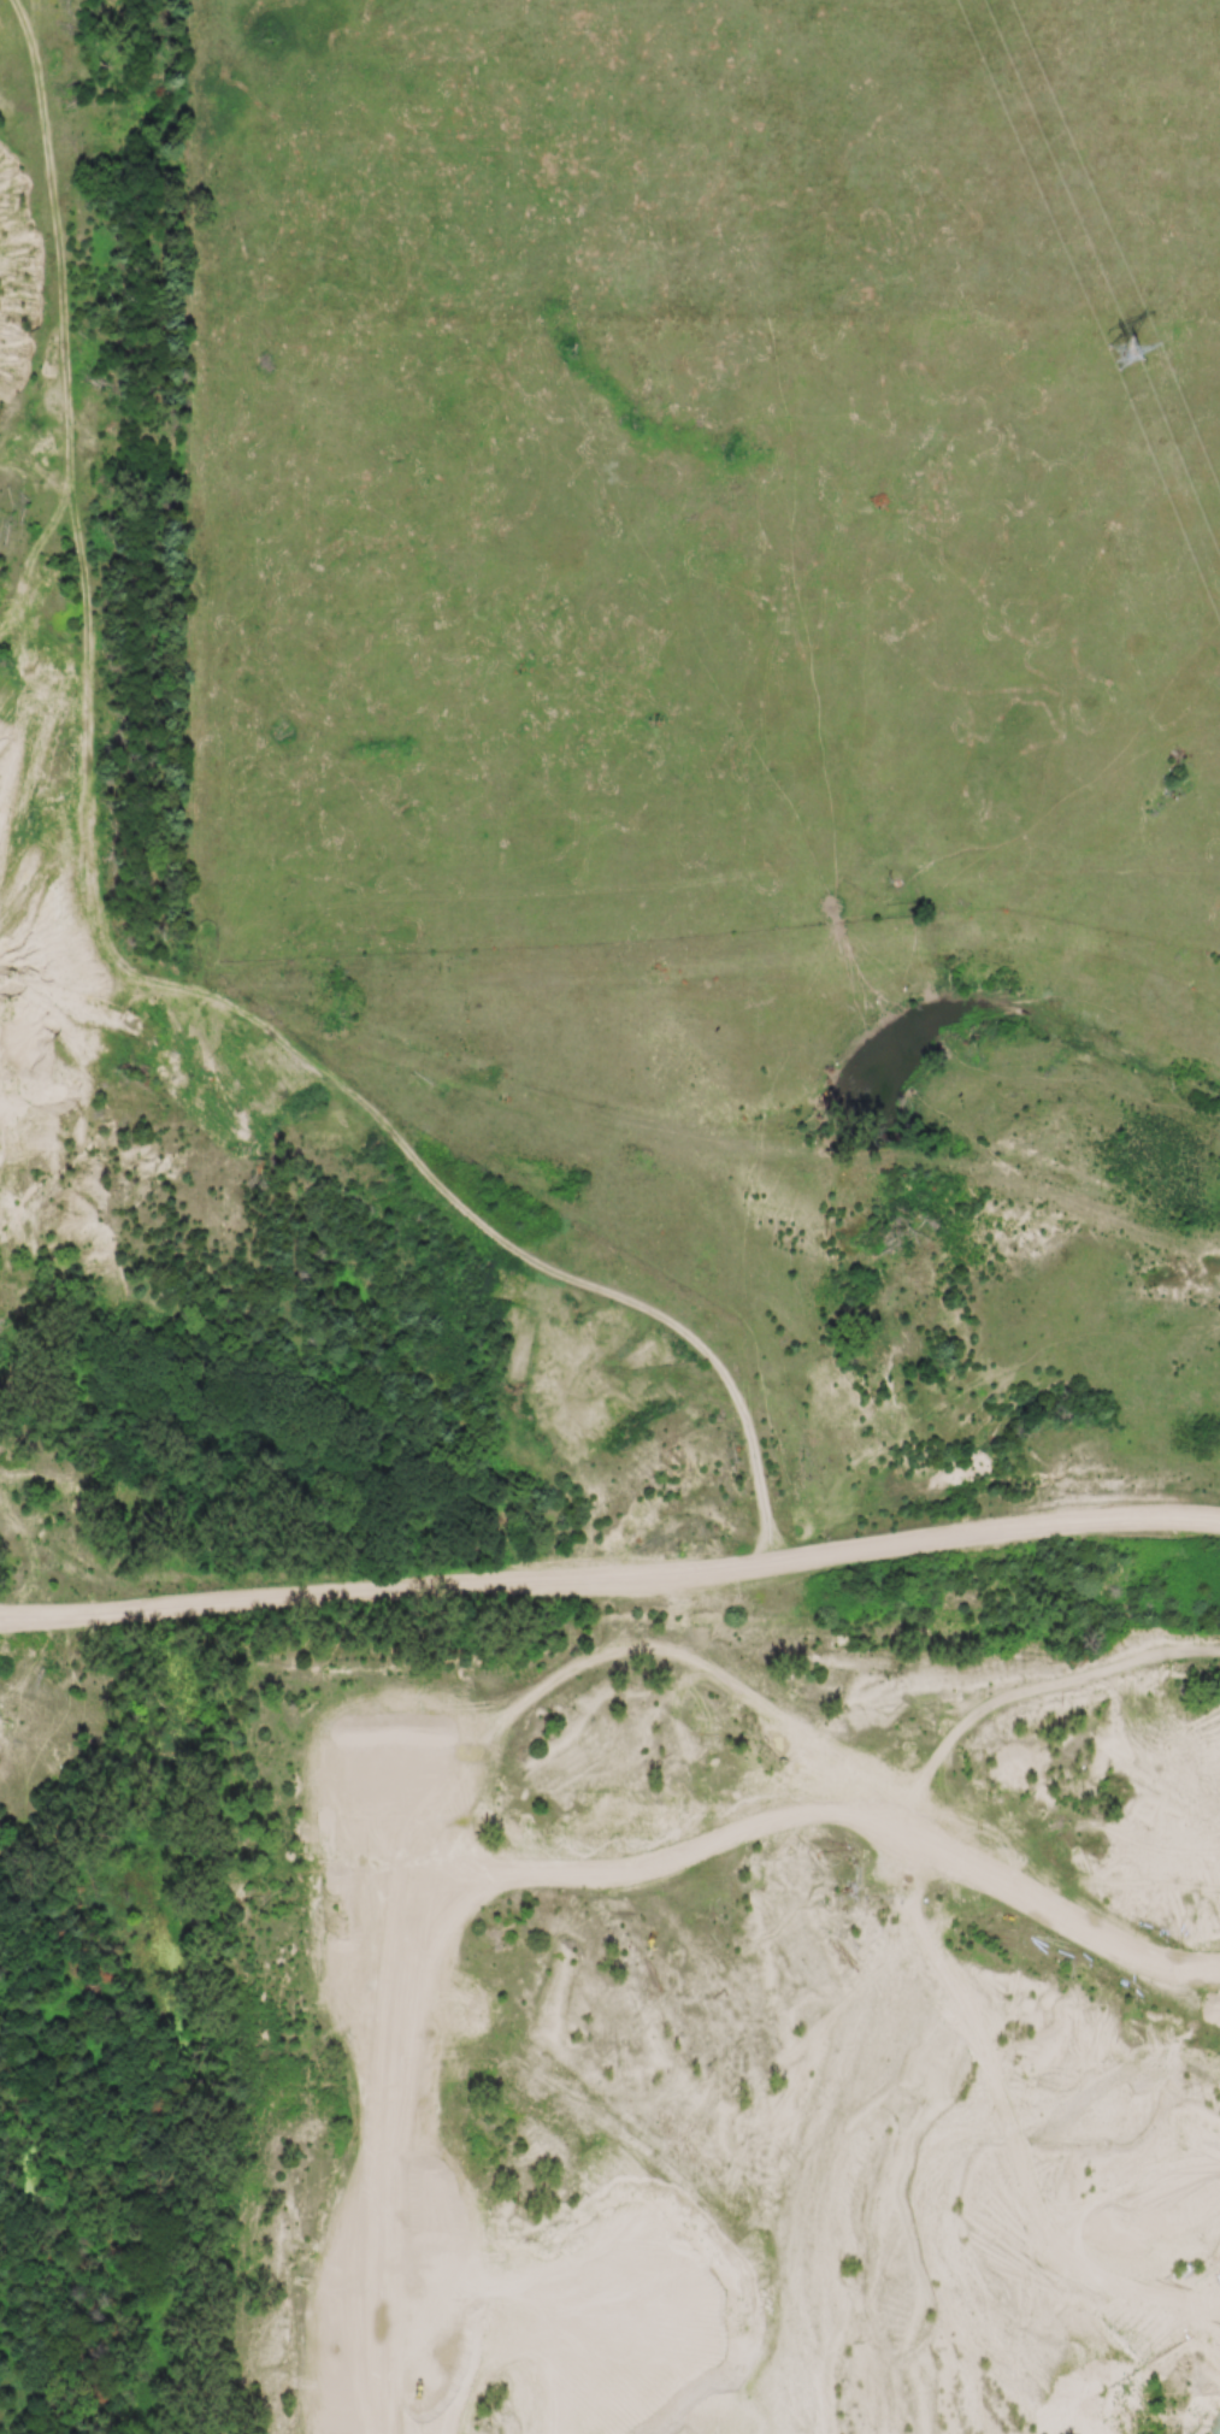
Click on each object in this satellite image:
power tower: (1126, 353)
road: (611, 1579)

